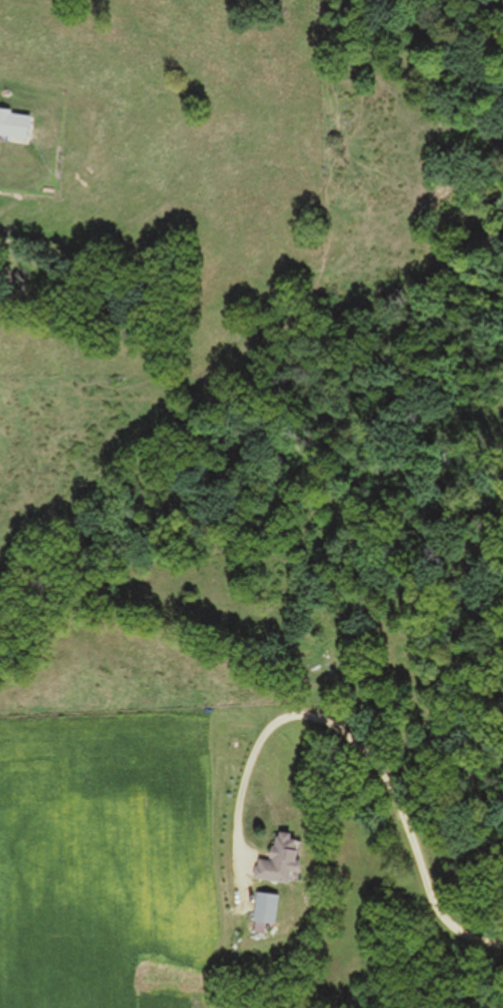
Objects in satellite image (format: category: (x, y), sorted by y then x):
building: (14, 126)
building: (277, 862)
building: (263, 911)

